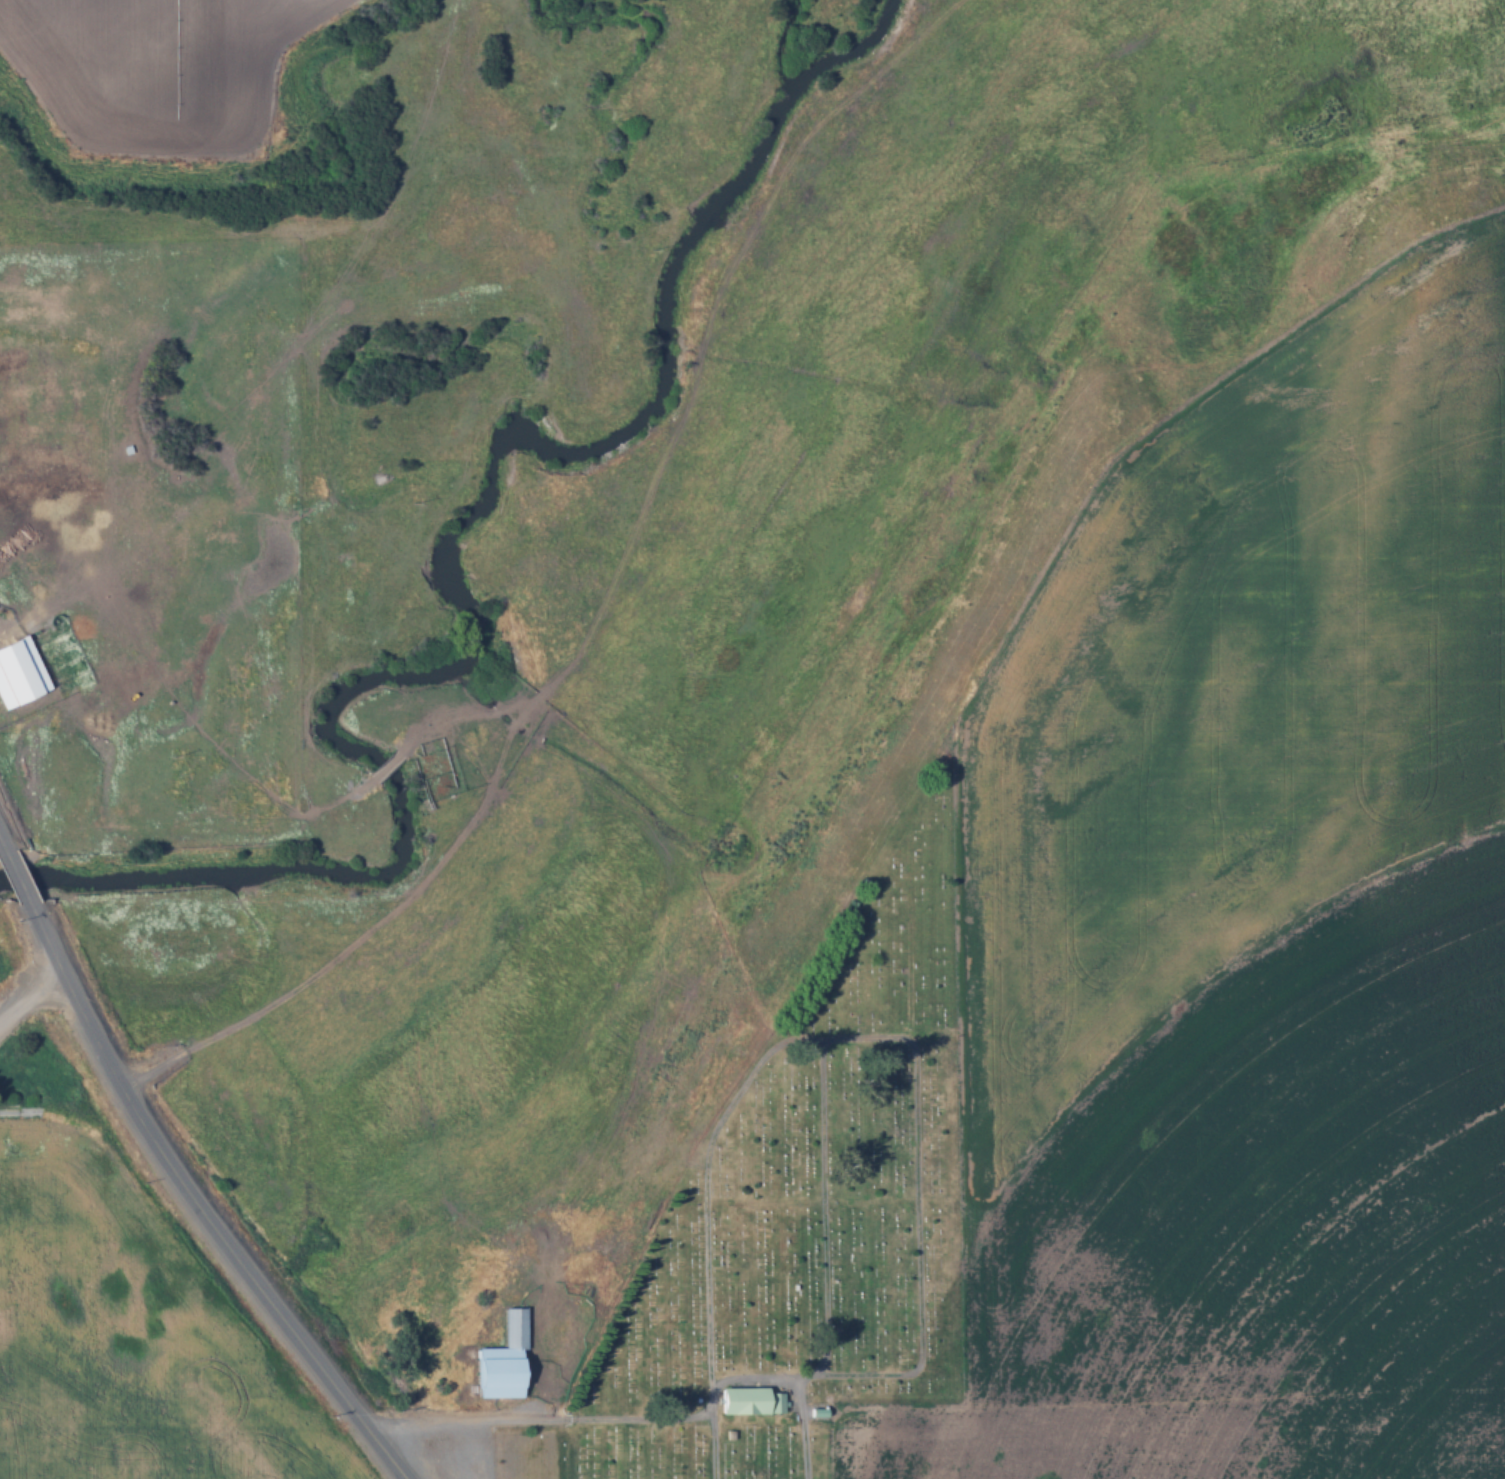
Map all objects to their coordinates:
road: (612, 597)
road: (498, 704)
road: (386, 761)
road: (1, 841)
road: (17, 875)
road: (29, 993)
road: (198, 1206)
park: (807, 1218)
building: (504, 1359)
building: (752, 1400)
road: (847, 1447)

